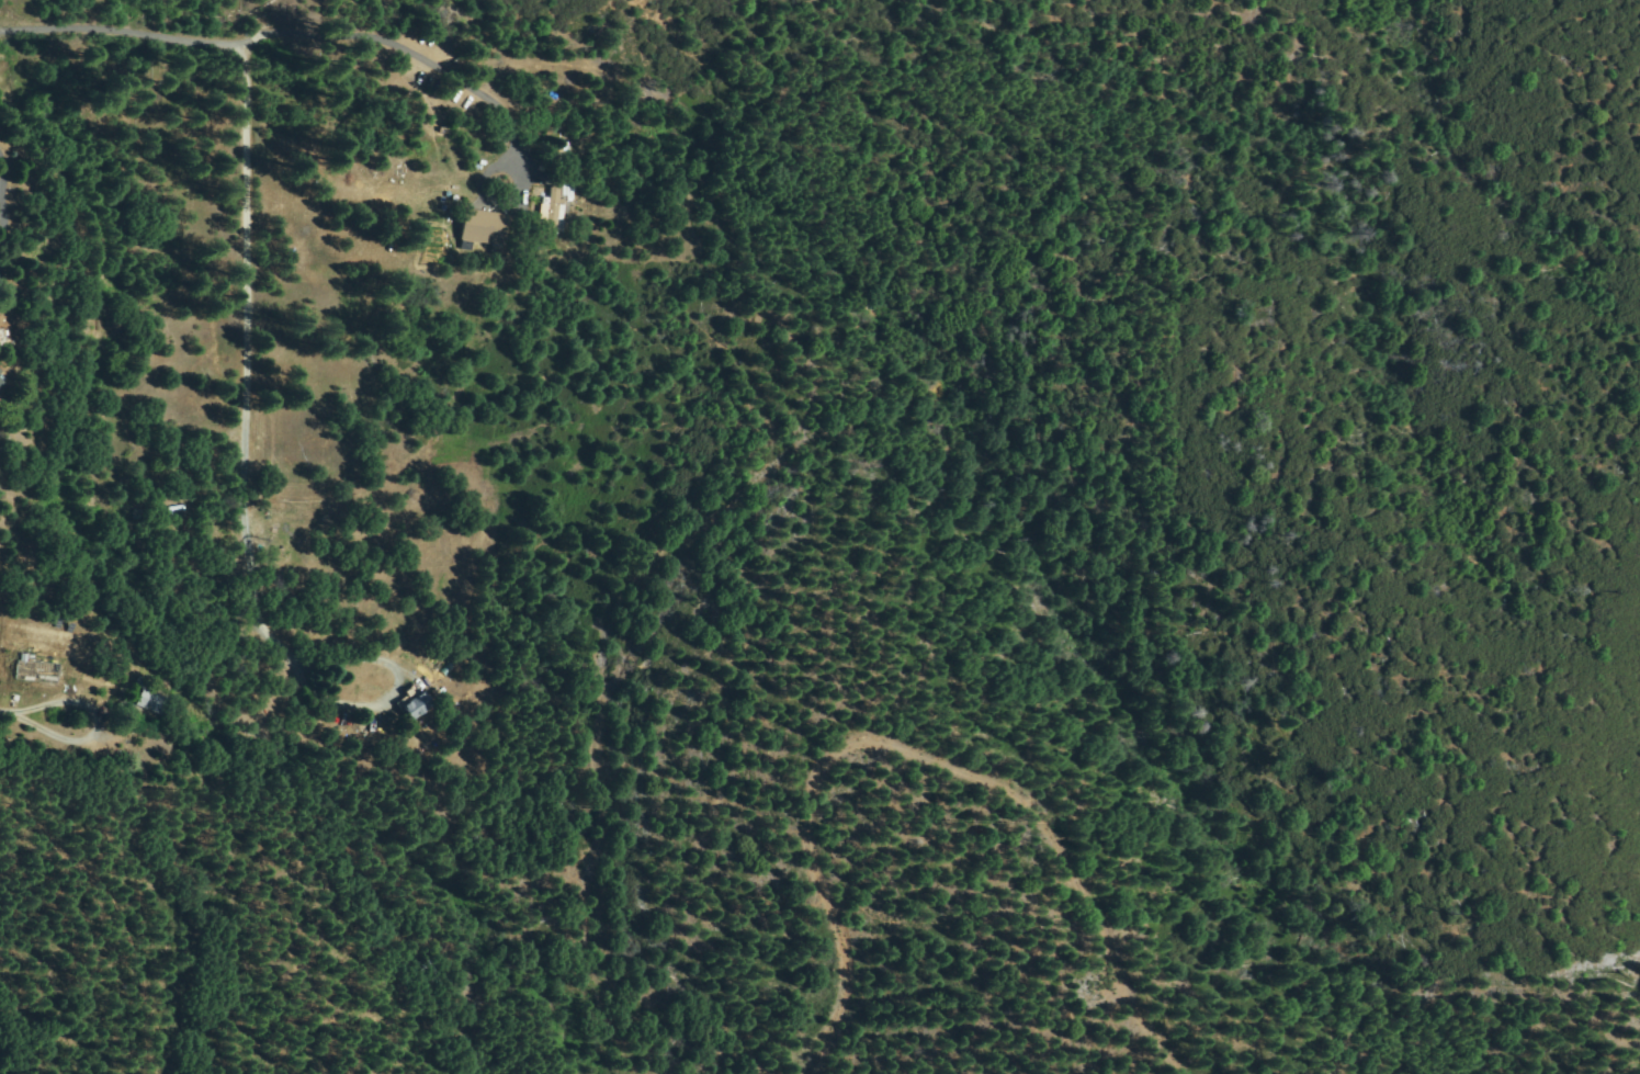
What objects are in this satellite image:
road: (159, 42)
building: (554, 208)
building: (485, 227)
building: (2, 378)
building: (177, 507)
building: (139, 512)
building: (177, 515)
building: (37, 670)
building: (142, 681)
building: (154, 702)
building: (412, 704)

